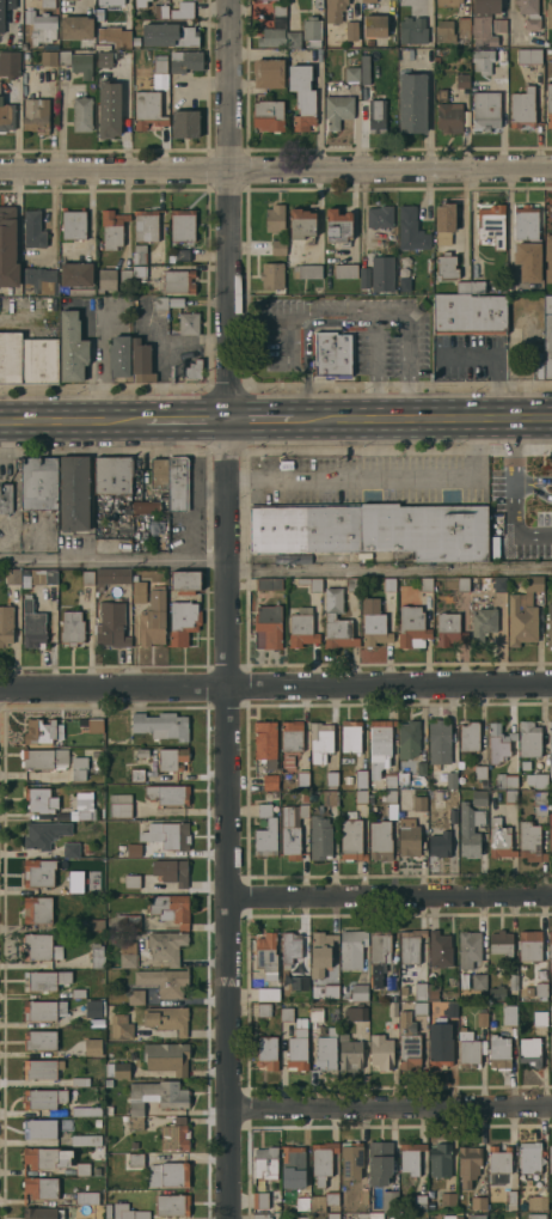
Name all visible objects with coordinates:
building: (109, 1)
building: (262, 1)
building: (368, 1)
building: (141, 2)
building: (449, 2)
building: (48, 4)
building: (318, 4)
building: (183, 10)
building: (335, 10)
building: (159, 11)
building: (530, 13)
building: (550, 14)
building: (1, 20)
building: (485, 22)
building: (498, 25)
building: (41, 26)
building: (375, 26)
building: (75, 28)
building: (312, 28)
building: (464, 28)
building: (275, 29)
building: (351, 30)
building: (412, 30)
building: (444, 31)
building: (115, 35)
building: (168, 35)
building: (293, 38)
building: (135, 41)
building: (369, 42)
building: (501, 57)
building: (530, 57)
building: (49, 59)
building: (104, 59)
building: (185, 61)
building: (484, 61)
building: (10, 63)
building: (76, 63)
building: (159, 63)
building: (364, 68)
building: (268, 73)
building: (352, 74)
building: (462, 81)
building: (442, 93)
building: (302, 97)
building: (412, 103)
building: (550, 104)
building: (522, 108)
building: (109, 109)
building: (148, 110)
building: (338, 110)
building: (486, 111)
building: (81, 112)
building: (36, 115)
building: (269, 115)
building: (376, 116)
building: (6, 117)
building: (449, 117)
building: (184, 123)
road: (275, 167)
building: (379, 217)
building: (551, 218)
building: (275, 219)
building: (525, 223)
building: (301, 224)
building: (444, 224)
building: (73, 225)
building: (338, 225)
building: (491, 225)
building: (146, 226)
building: (183, 226)
building: (112, 228)
building: (33, 230)
building: (411, 230)
building: (8, 248)
building: (278, 248)
building: (140, 255)
building: (180, 255)
building: (548, 258)
building: (527, 261)
building: (446, 267)
building: (345, 270)
building: (140, 272)
building: (307, 272)
building: (75, 274)
building: (382, 274)
building: (125, 275)
building: (271, 275)
building: (364, 278)
building: (41, 280)
building: (105, 280)
building: (178, 281)
building: (477, 286)
building: (464, 287)
building: (176, 301)
building: (160, 304)
building: (468, 313)
road: (366, 315)
building: (189, 324)
building: (547, 336)
building: (72, 348)
building: (332, 354)
building: (11, 356)
building: (119, 356)
building: (39, 360)
building: (141, 361)
road: (375, 367)
building: (194, 370)
road: (422, 419)
road: (186, 420)
road: (260, 420)
road: (73, 421)
building: (114, 475)
road: (380, 477)
building: (180, 481)
building: (39, 483)
building: (155, 488)
road: (511, 489)
building: (74, 493)
building: (5, 498)
building: (306, 529)
building: (427, 530)
road: (275, 567)
building: (25, 573)
building: (13, 575)
building: (112, 575)
building: (50, 577)
building: (87, 578)
building: (185, 583)
building: (312, 583)
building: (269, 584)
building: (427, 584)
building: (464, 584)
building: (354, 585)
building: (391, 585)
building: (501, 585)
building: (137, 592)
road: (228, 609)
building: (523, 612)
building: (153, 617)
building: (183, 621)
building: (337, 621)
building: (375, 623)
building: (6, 624)
building: (111, 624)
building: (483, 624)
building: (32, 626)
building: (270, 626)
building: (548, 626)
building: (301, 628)
building: (413, 628)
building: (72, 629)
building: (450, 629)
road: (276, 689)
building: (94, 725)
building: (161, 725)
building: (39, 731)
building: (292, 736)
building: (350, 736)
building: (470, 737)
building: (411, 738)
building: (528, 739)
building: (320, 742)
building: (265, 743)
building: (438, 743)
building: (380, 744)
building: (498, 744)
building: (550, 749)
building: (142, 752)
building: (44, 757)
building: (172, 760)
building: (289, 761)
building: (79, 768)
building: (421, 768)
building: (479, 773)
building: (403, 774)
building: (136, 775)
building: (332, 778)
building: (301, 779)
building: (361, 779)
building: (348, 780)
building: (391, 780)
building: (450, 780)
building: (536, 780)
building: (505, 781)
building: (270, 782)
building: (167, 794)
building: (305, 797)
building: (361, 797)
building: (390, 797)
building: (510, 797)
building: (330, 798)
building: (479, 798)
building: (37, 800)
building: (540, 803)
building: (419, 804)
building: (121, 806)
building: (84, 807)
building: (264, 810)
building: (302, 811)
building: (392, 812)
building: (453, 816)
building: (470, 829)
building: (44, 834)
building: (550, 834)
building: (167, 835)
building: (289, 835)
building: (320, 837)
building: (409, 837)
building: (265, 839)
building: (499, 839)
building: (351, 840)
building: (380, 841)
building: (530, 842)
building: (440, 845)
building: (87, 848)
building: (70, 849)
building: (134, 849)
building: (172, 871)
building: (38, 872)
building: (75, 882)
building: (131, 882)
road: (390, 896)
building: (171, 908)
building: (37, 910)
building: (128, 922)
building: (97, 925)
building: (501, 943)
building: (550, 944)
building: (530, 945)
building: (166, 946)
building: (410, 946)
building: (39, 947)
building: (290, 949)
building: (352, 949)
building: (440, 949)
building: (468, 949)
building: (320, 952)
building: (266, 953)
building: (128, 955)
building: (379, 955)
building: (97, 956)
building: (45, 980)
building: (164, 981)
building: (299, 982)
building: (479, 982)
building: (513, 982)
building: (391, 985)
building: (413, 989)
building: (541, 989)
building: (331, 991)
building: (433, 991)
building: (110, 992)
building: (78, 993)
building: (360, 993)
building: (497, 993)
building: (268, 994)
building: (135, 996)
building: (112, 1001)
building: (93, 1008)
building: (392, 1008)
building: (419, 1008)
building: (43, 1010)
building: (263, 1010)
building: (450, 1010)
building: (355, 1013)
building: (286, 1014)
building: (317, 1014)
building: (509, 1016)
building: (167, 1018)
building: (539, 1018)
building: (482, 1019)
building: (121, 1026)
building: (39, 1040)
building: (407, 1043)
building: (440, 1043)
building: (92, 1047)
building: (468, 1049)
building: (326, 1050)
building: (551, 1050)
building: (298, 1052)
building: (530, 1052)
building: (266, 1053)
building: (381, 1053)
building: (499, 1053)
building: (350, 1054)
building: (166, 1056)
building: (42, 1068)
building: (117, 1069)
building: (80, 1081)
building: (109, 1083)
building: (158, 1096)
building: (43, 1098)
road: (390, 1108)
building: (109, 1109)
building: (86, 1110)
building: (97, 1122)
building: (135, 1122)
building: (39, 1128)
building: (174, 1135)
building: (86, 1140)
building: (529, 1157)
building: (47, 1158)
building: (410, 1158)
building: (136, 1159)
building: (351, 1159)
building: (499, 1159)
building: (551, 1159)
building: (440, 1160)
building: (323, 1162)
building: (381, 1162)
building: (264, 1163)
building: (468, 1165)
building: (293, 1166)
building: (82, 1169)
building: (97, 1171)
building: (170, 1174)
building: (41, 1188)
building: (364, 1196)
building: (86, 1197)
building: (511, 1197)
building: (448, 1199)
building: (260, 1200)
building: (388, 1200)
building: (324, 1201)
building: (419, 1201)
building: (478, 1202)
building: (535, 1202)
building: (303, 1203)
building: (172, 1205)
building: (108, 1211)
building: (128, 1212)
building: (39, 1213)
building: (393, 1214)
building: (333, 1215)
building: (362, 1215)
building: (375, 1215)
building: (535, 1215)
building: (259, 1217)
building: (452, 1217)
building: (477, 1217)
building: (302, 1218)

